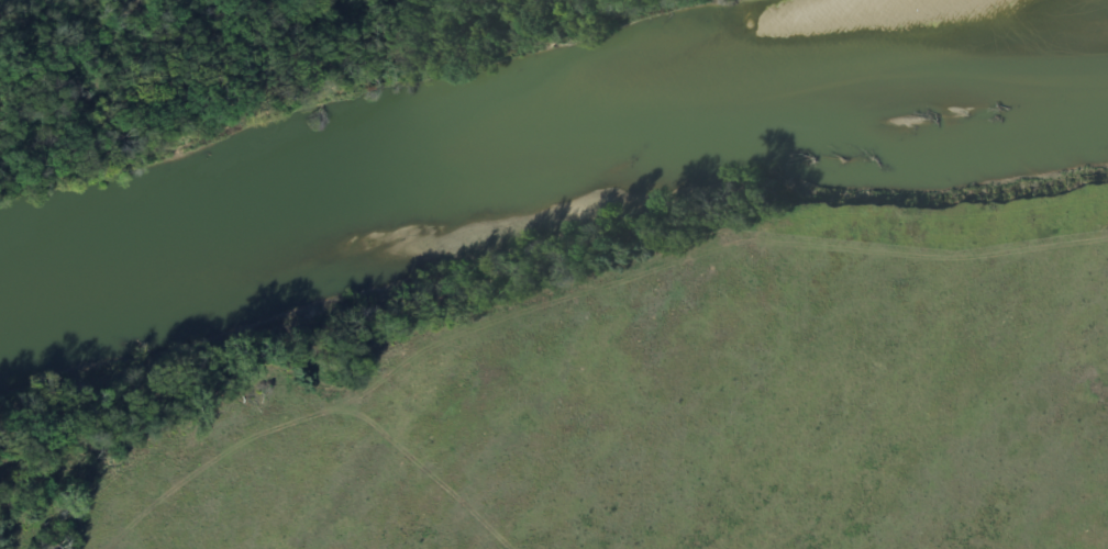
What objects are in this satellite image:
river: (483, 149)

